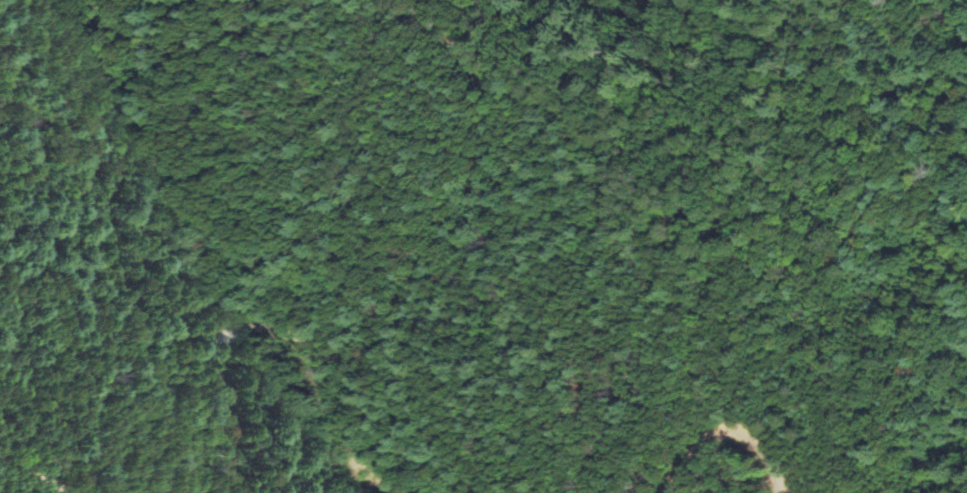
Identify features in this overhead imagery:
road: (32, 476)

